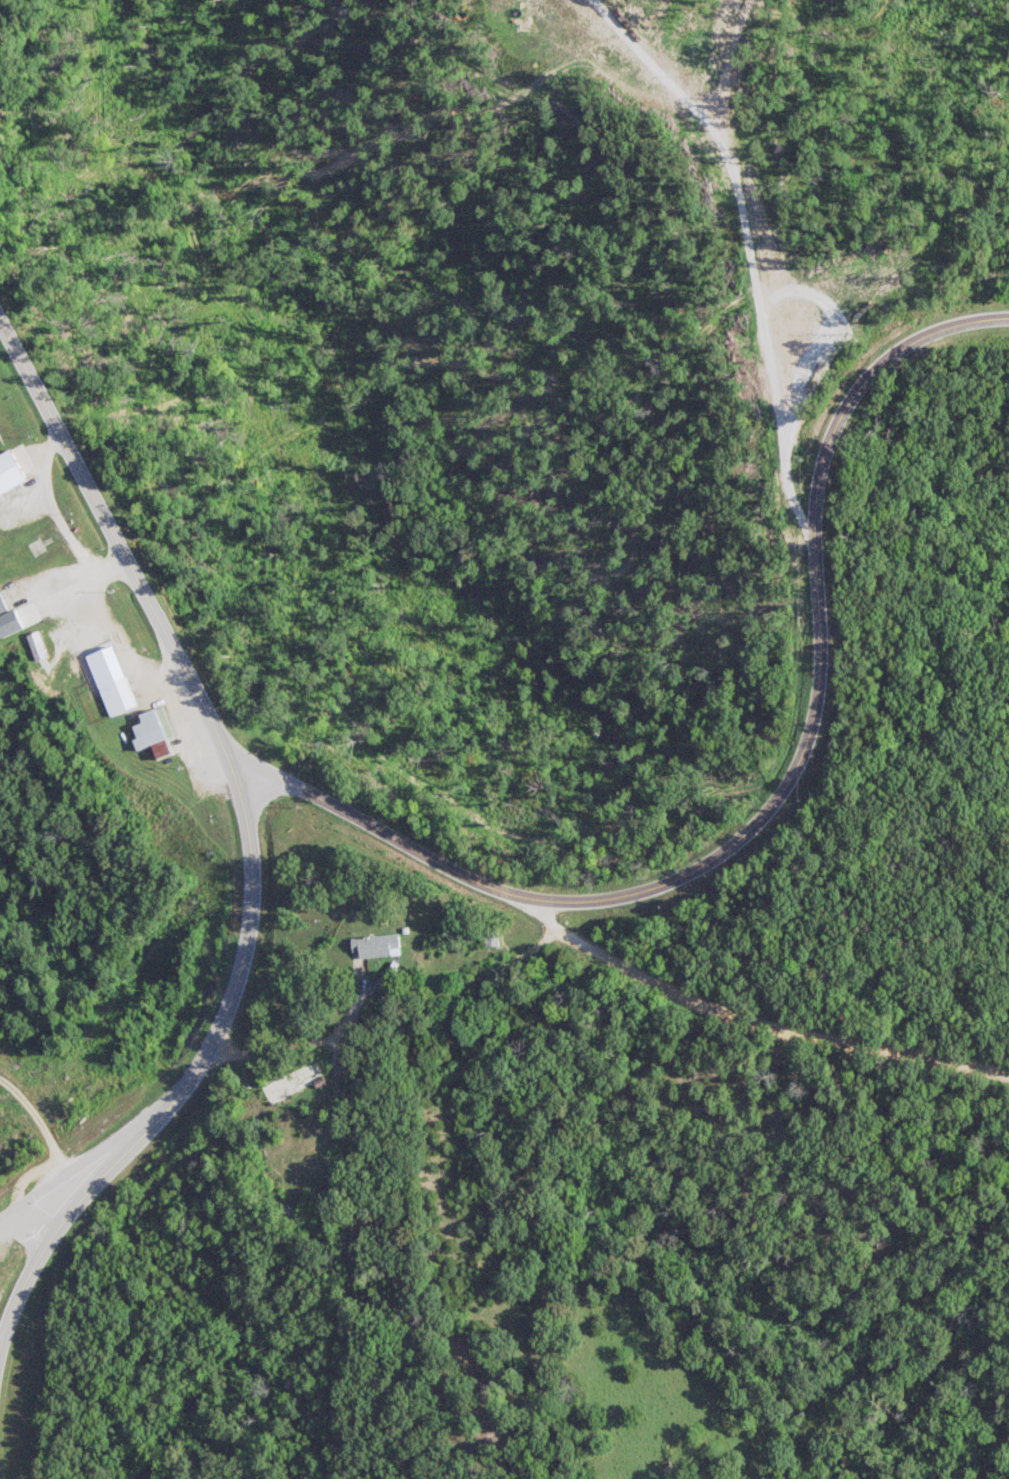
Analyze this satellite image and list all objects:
building: (12, 470)
road: (119, 546)
building: (9, 619)
building: (38, 645)
building: (118, 695)
building: (154, 732)
road: (786, 801)
building: (377, 944)
road: (762, 1020)
road: (184, 1080)
building: (293, 1080)
road: (45, 1134)
road: (37, 1212)

